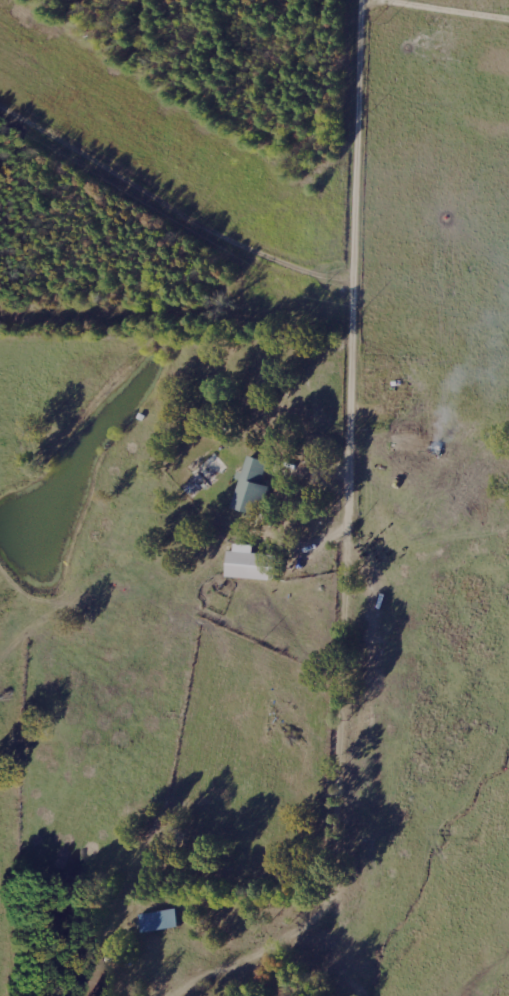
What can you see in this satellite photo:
road: (340, 461)
building: (251, 486)
building: (250, 563)
road: (426, 635)
building: (159, 920)
road: (483, 963)

